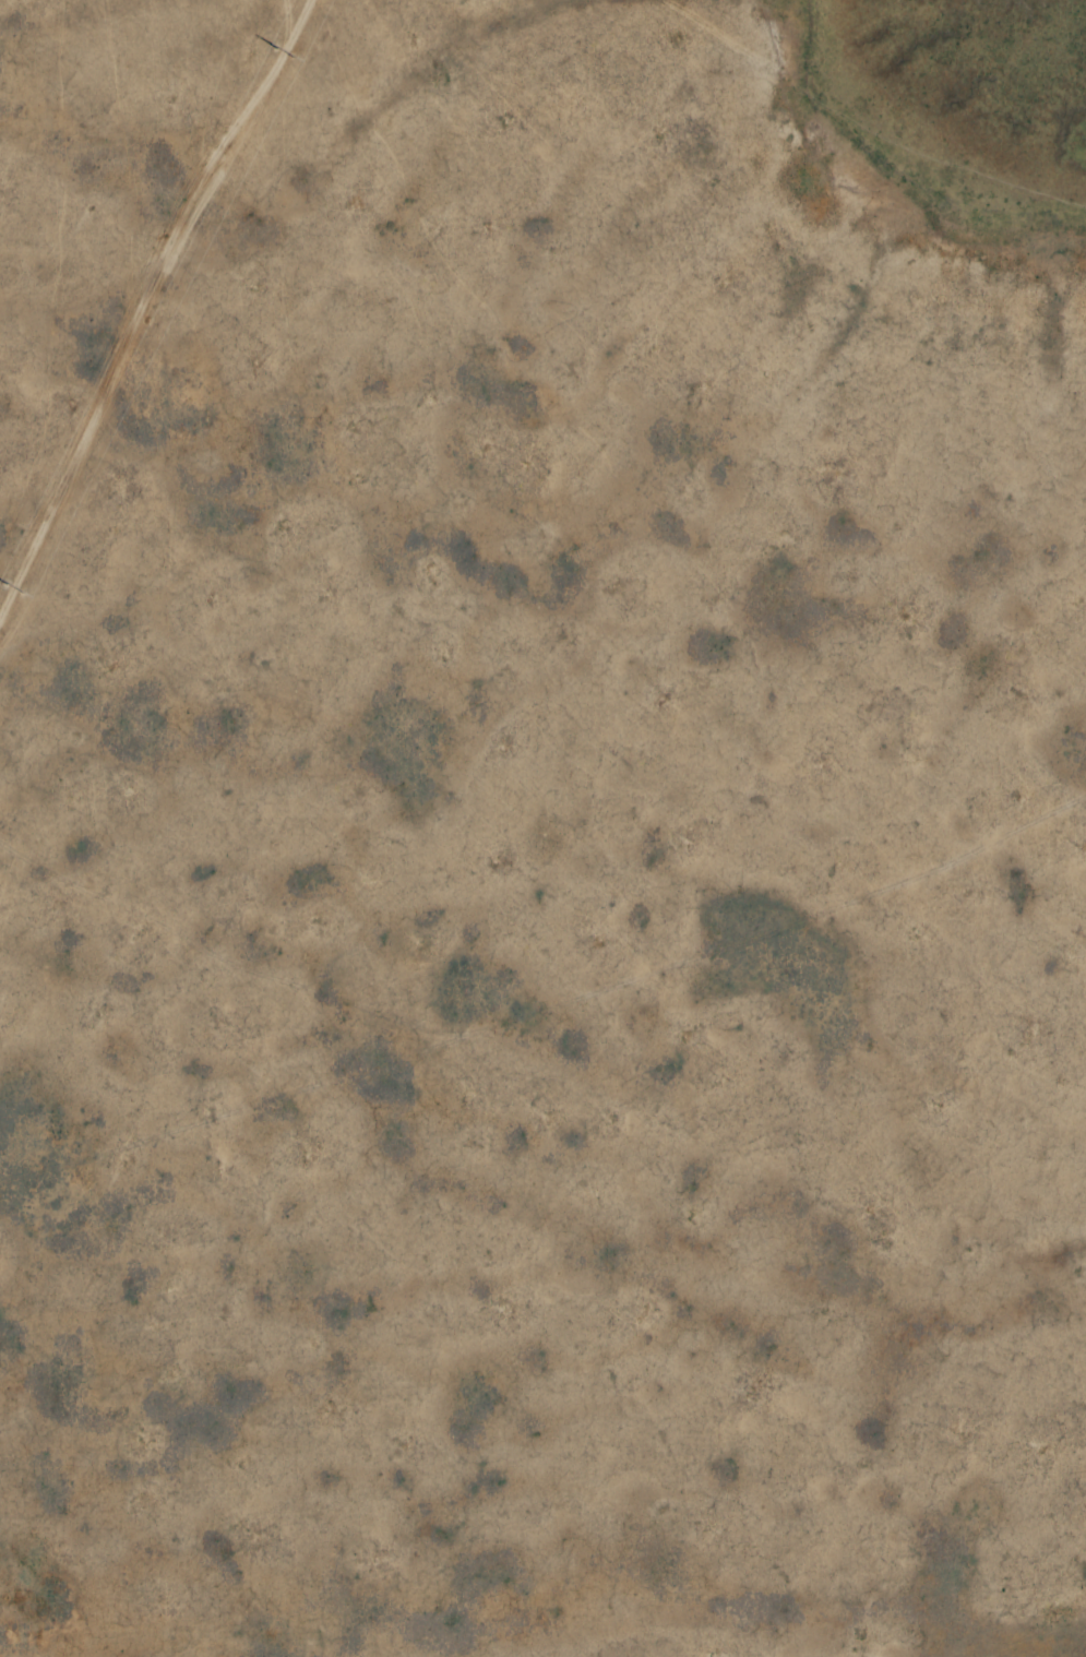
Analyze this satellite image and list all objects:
power tower: (281, 52)
power tower: (13, 588)

